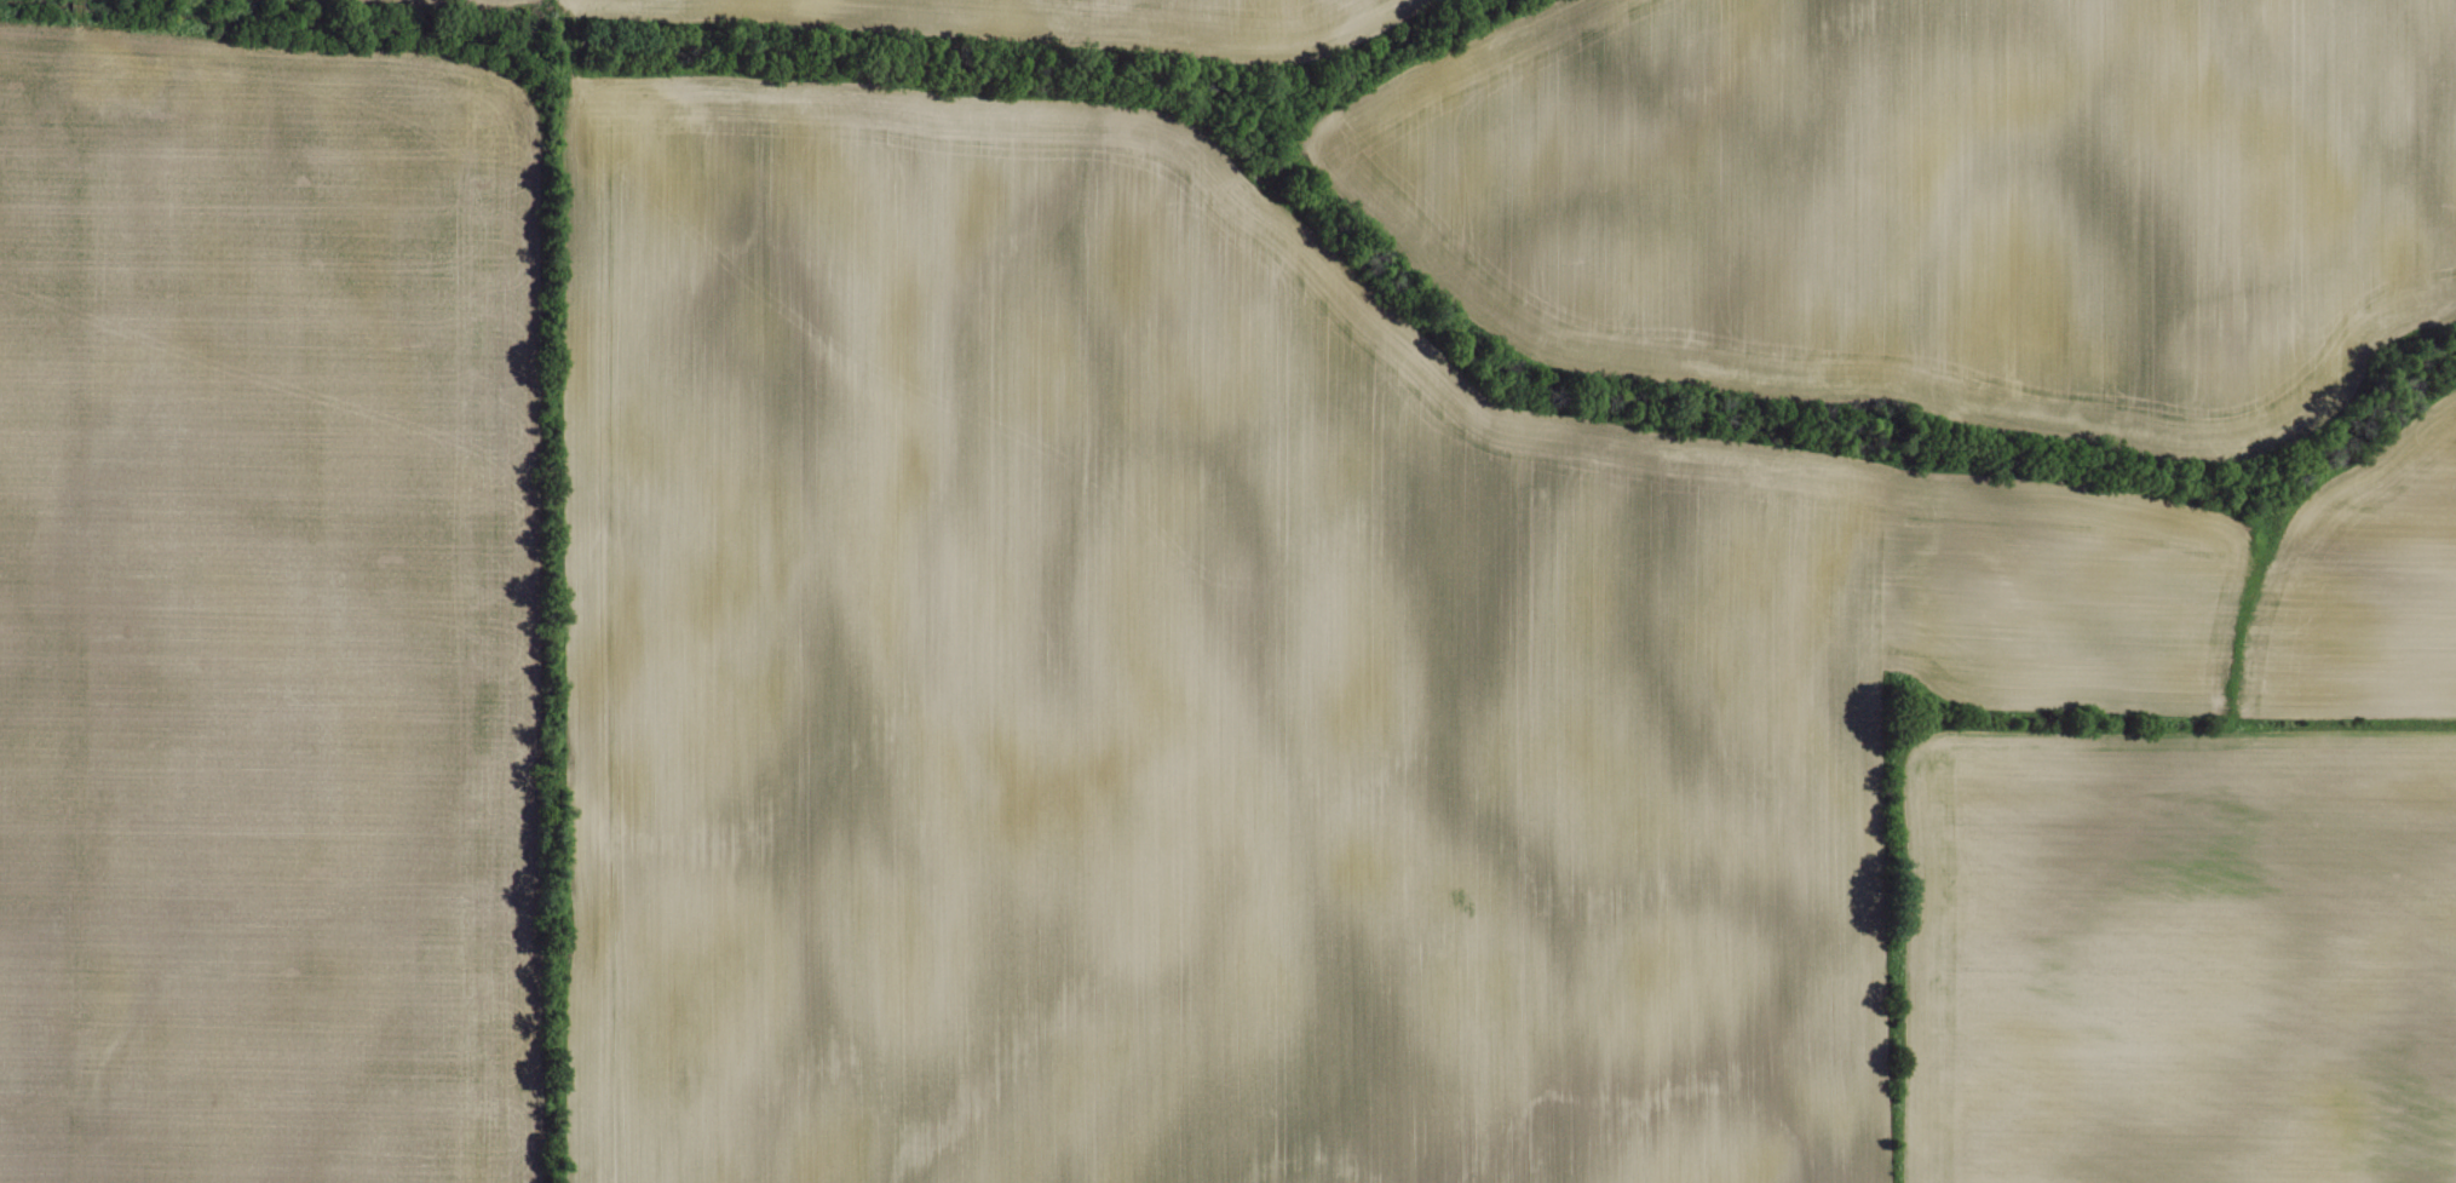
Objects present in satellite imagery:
road: (77, 6)
road: (77, 40)

